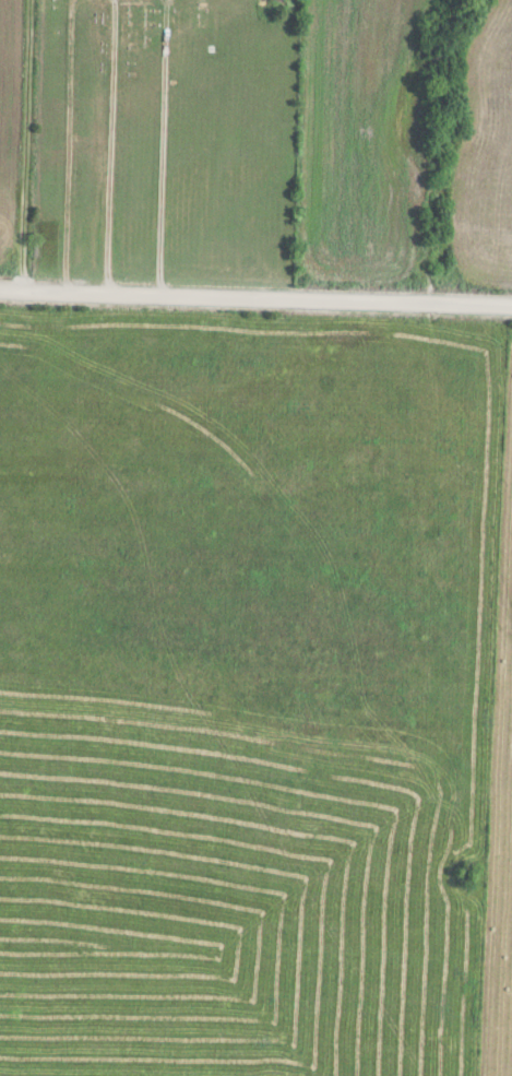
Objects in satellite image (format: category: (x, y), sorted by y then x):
park: (162, 141)
road: (109, 152)
road: (255, 300)

